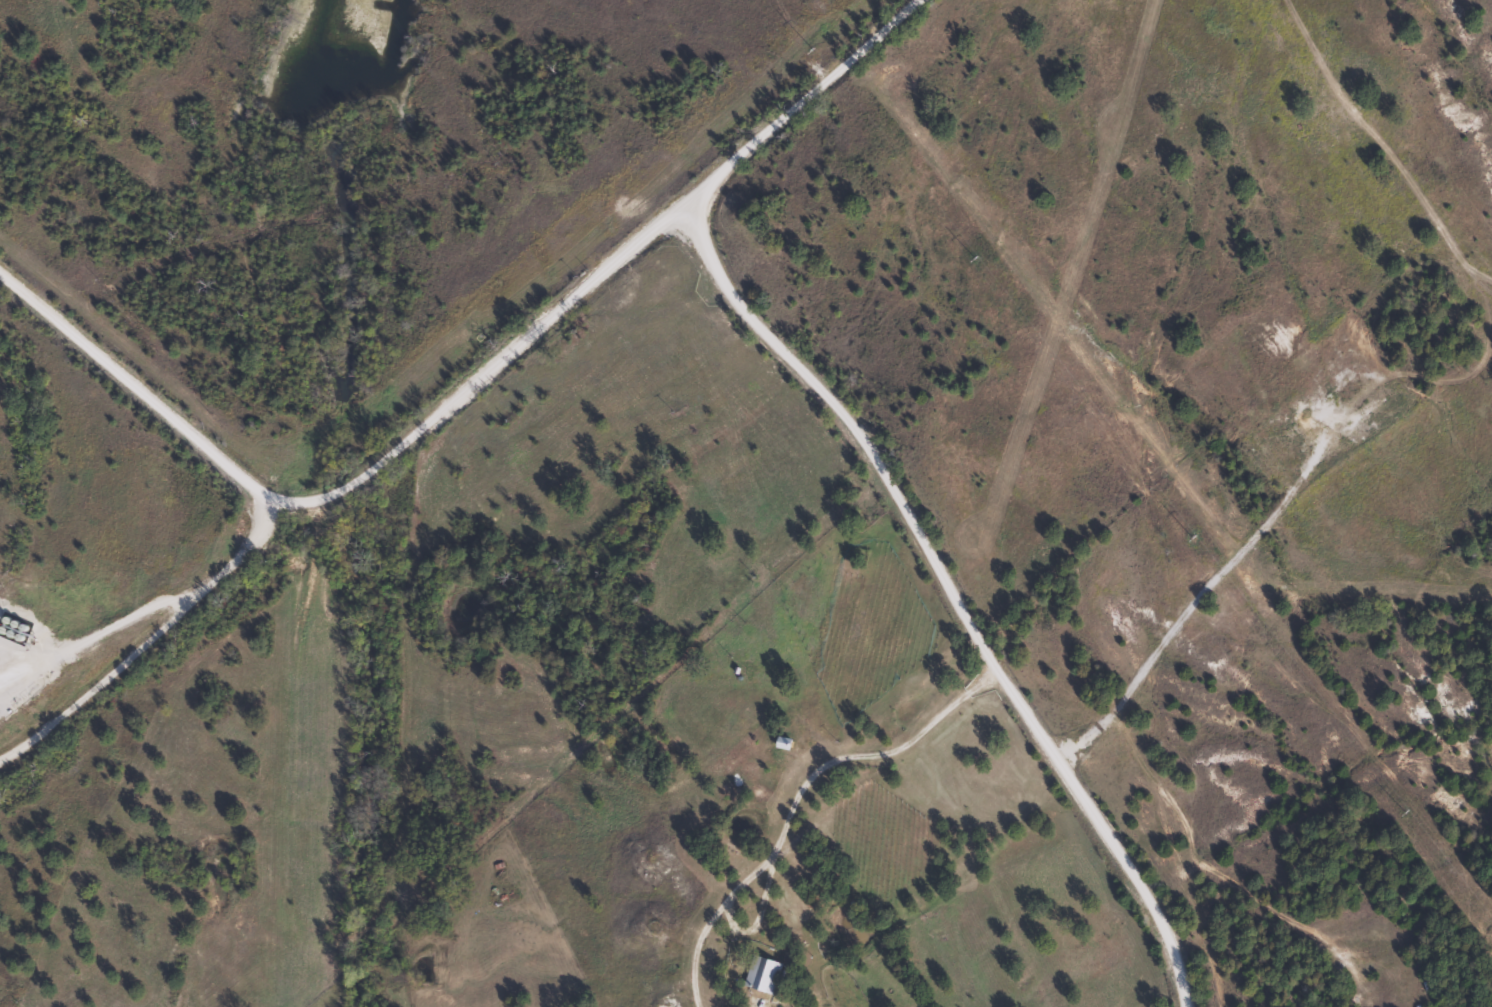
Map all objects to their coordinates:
road: (475, 395)
road: (952, 597)
road: (1202, 607)
road: (120, 624)
road: (151, 645)
building: (761, 974)

